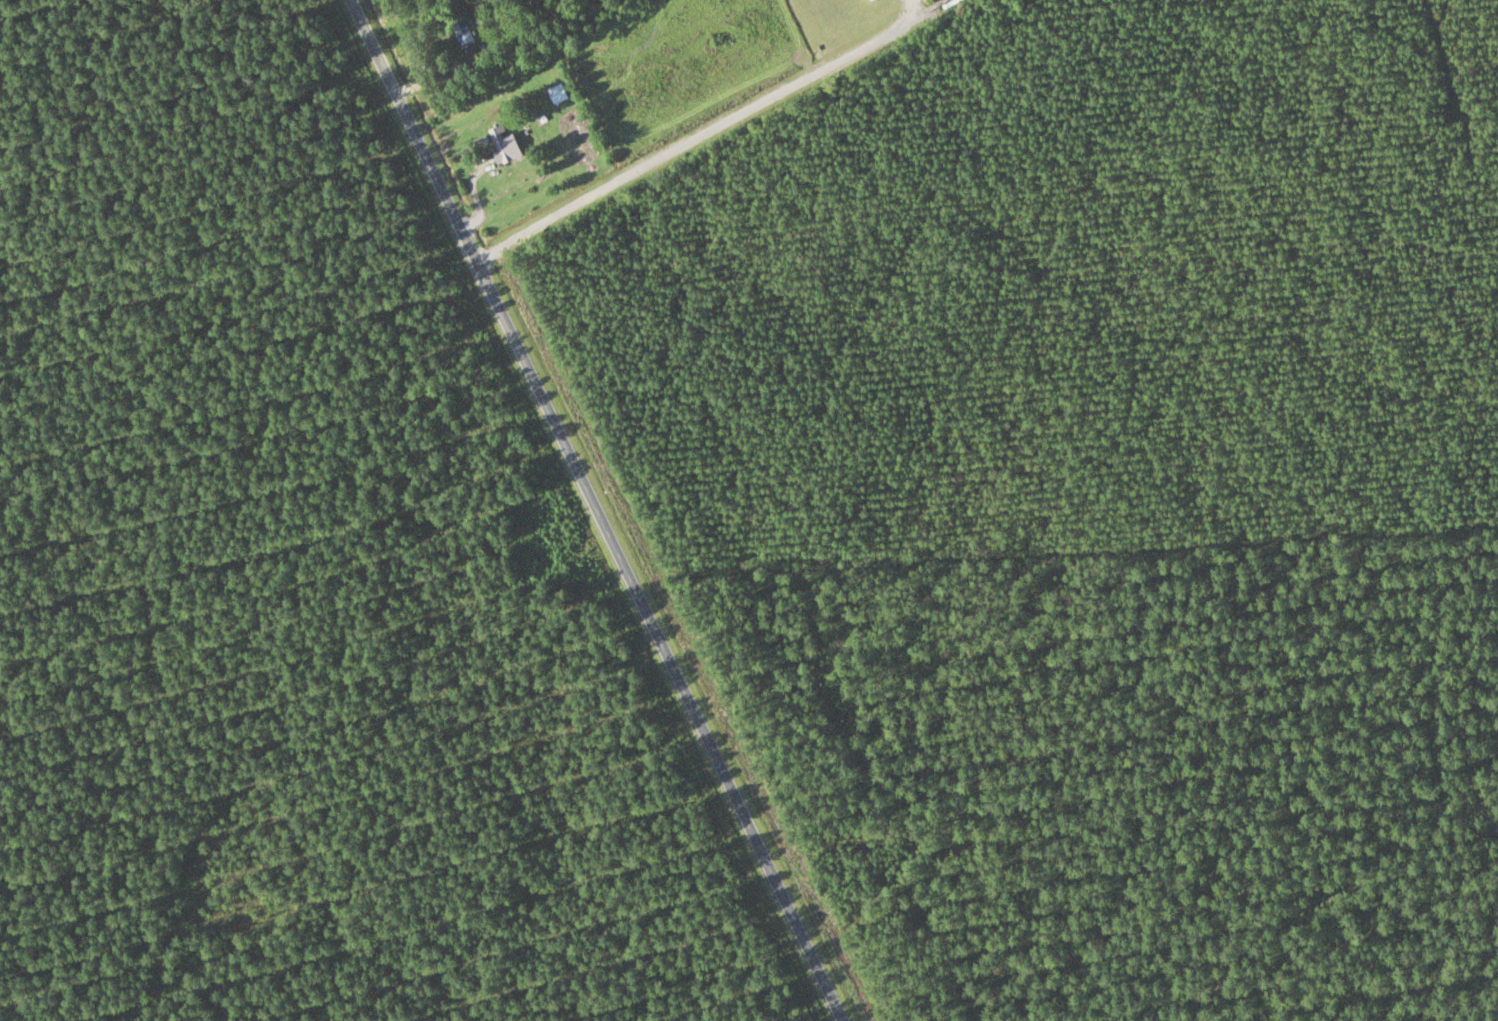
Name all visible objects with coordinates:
building: (460, 34)
building: (501, 144)
road: (601, 509)

